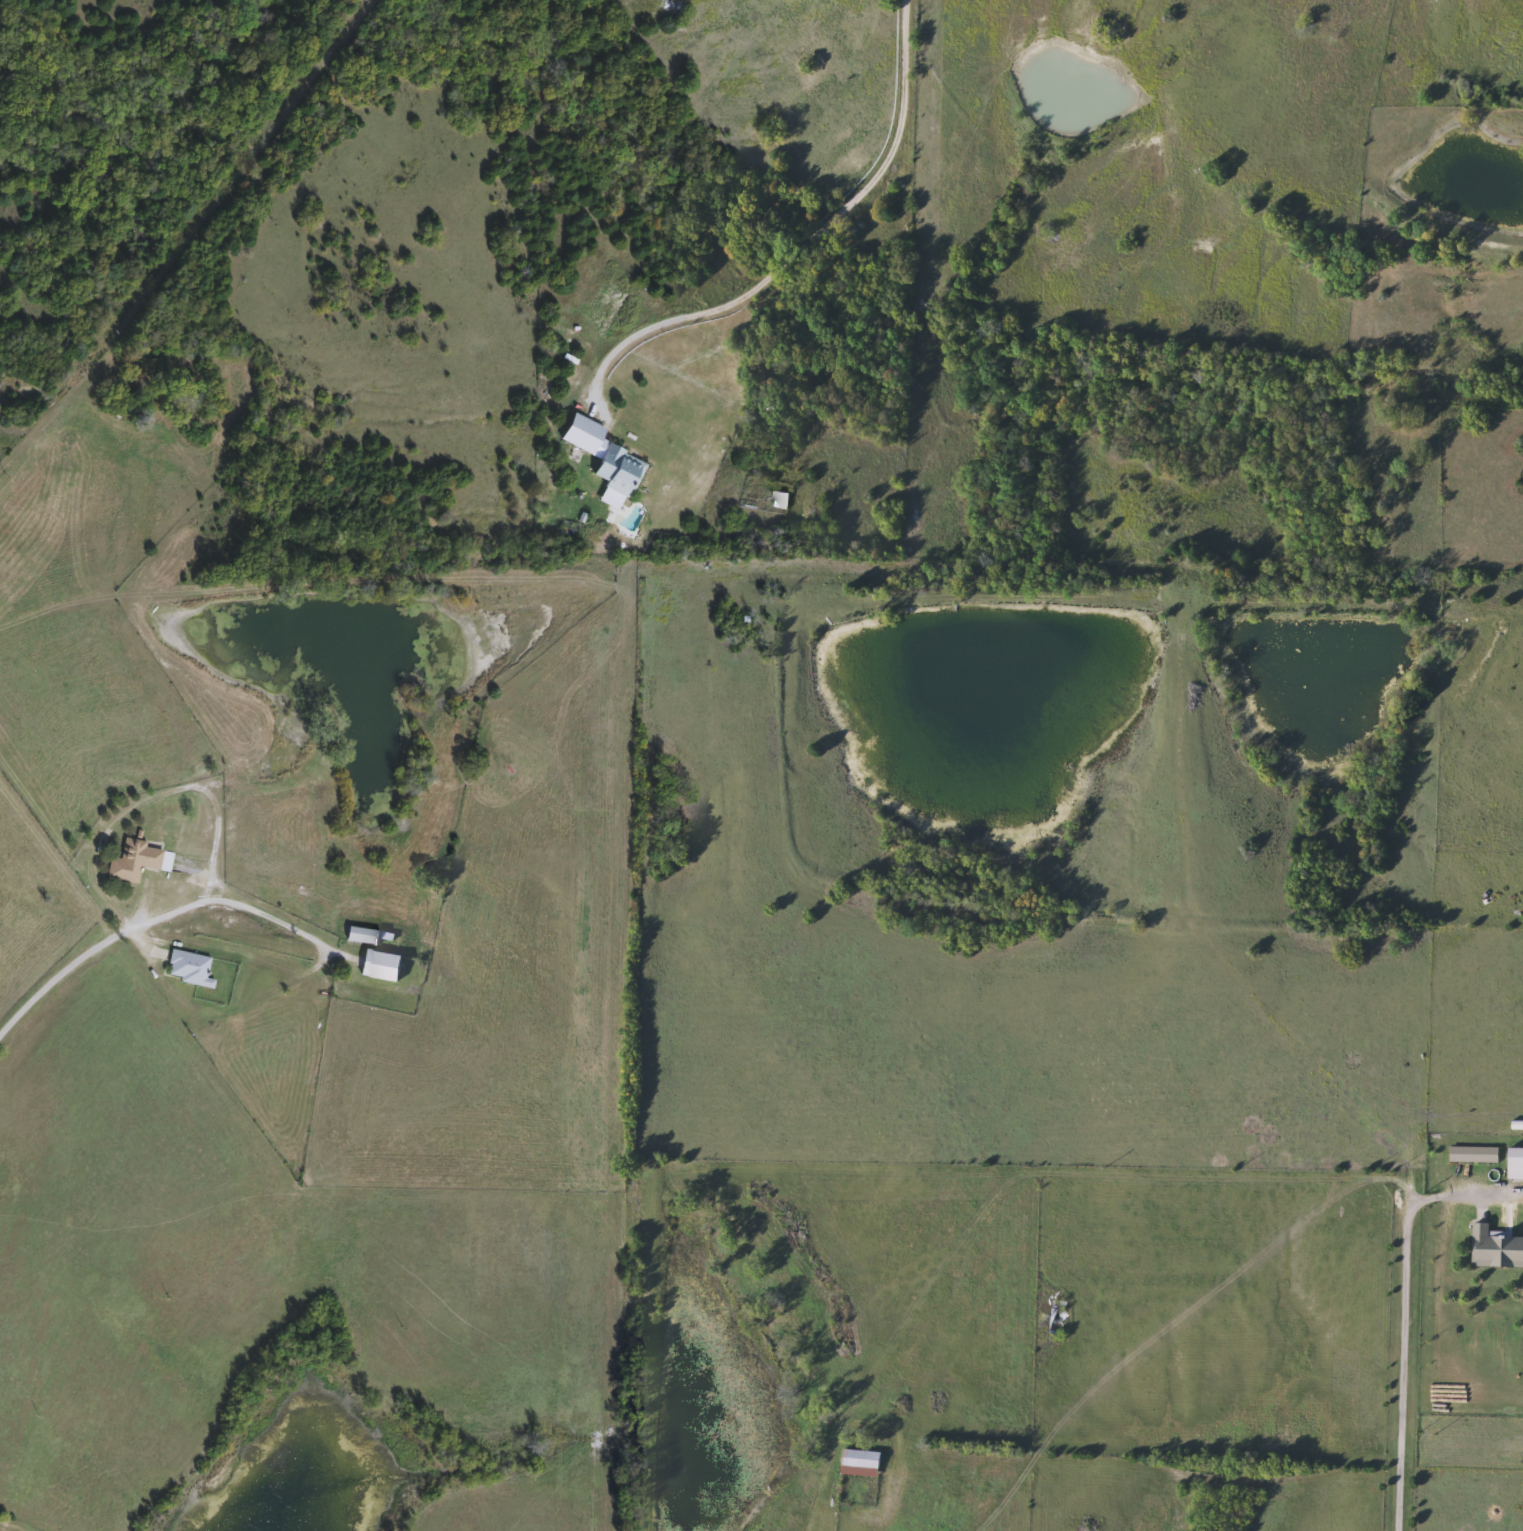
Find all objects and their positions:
road: (812, 227)
building: (585, 435)
building: (621, 471)
building: (781, 500)
building: (138, 861)
road: (211, 900)
building: (368, 935)
building: (382, 965)
building: (190, 968)
road: (53, 980)
building: (1517, 1164)
building: (1496, 1248)
building: (1059, 1320)
road: (1399, 1372)
building: (863, 1463)

